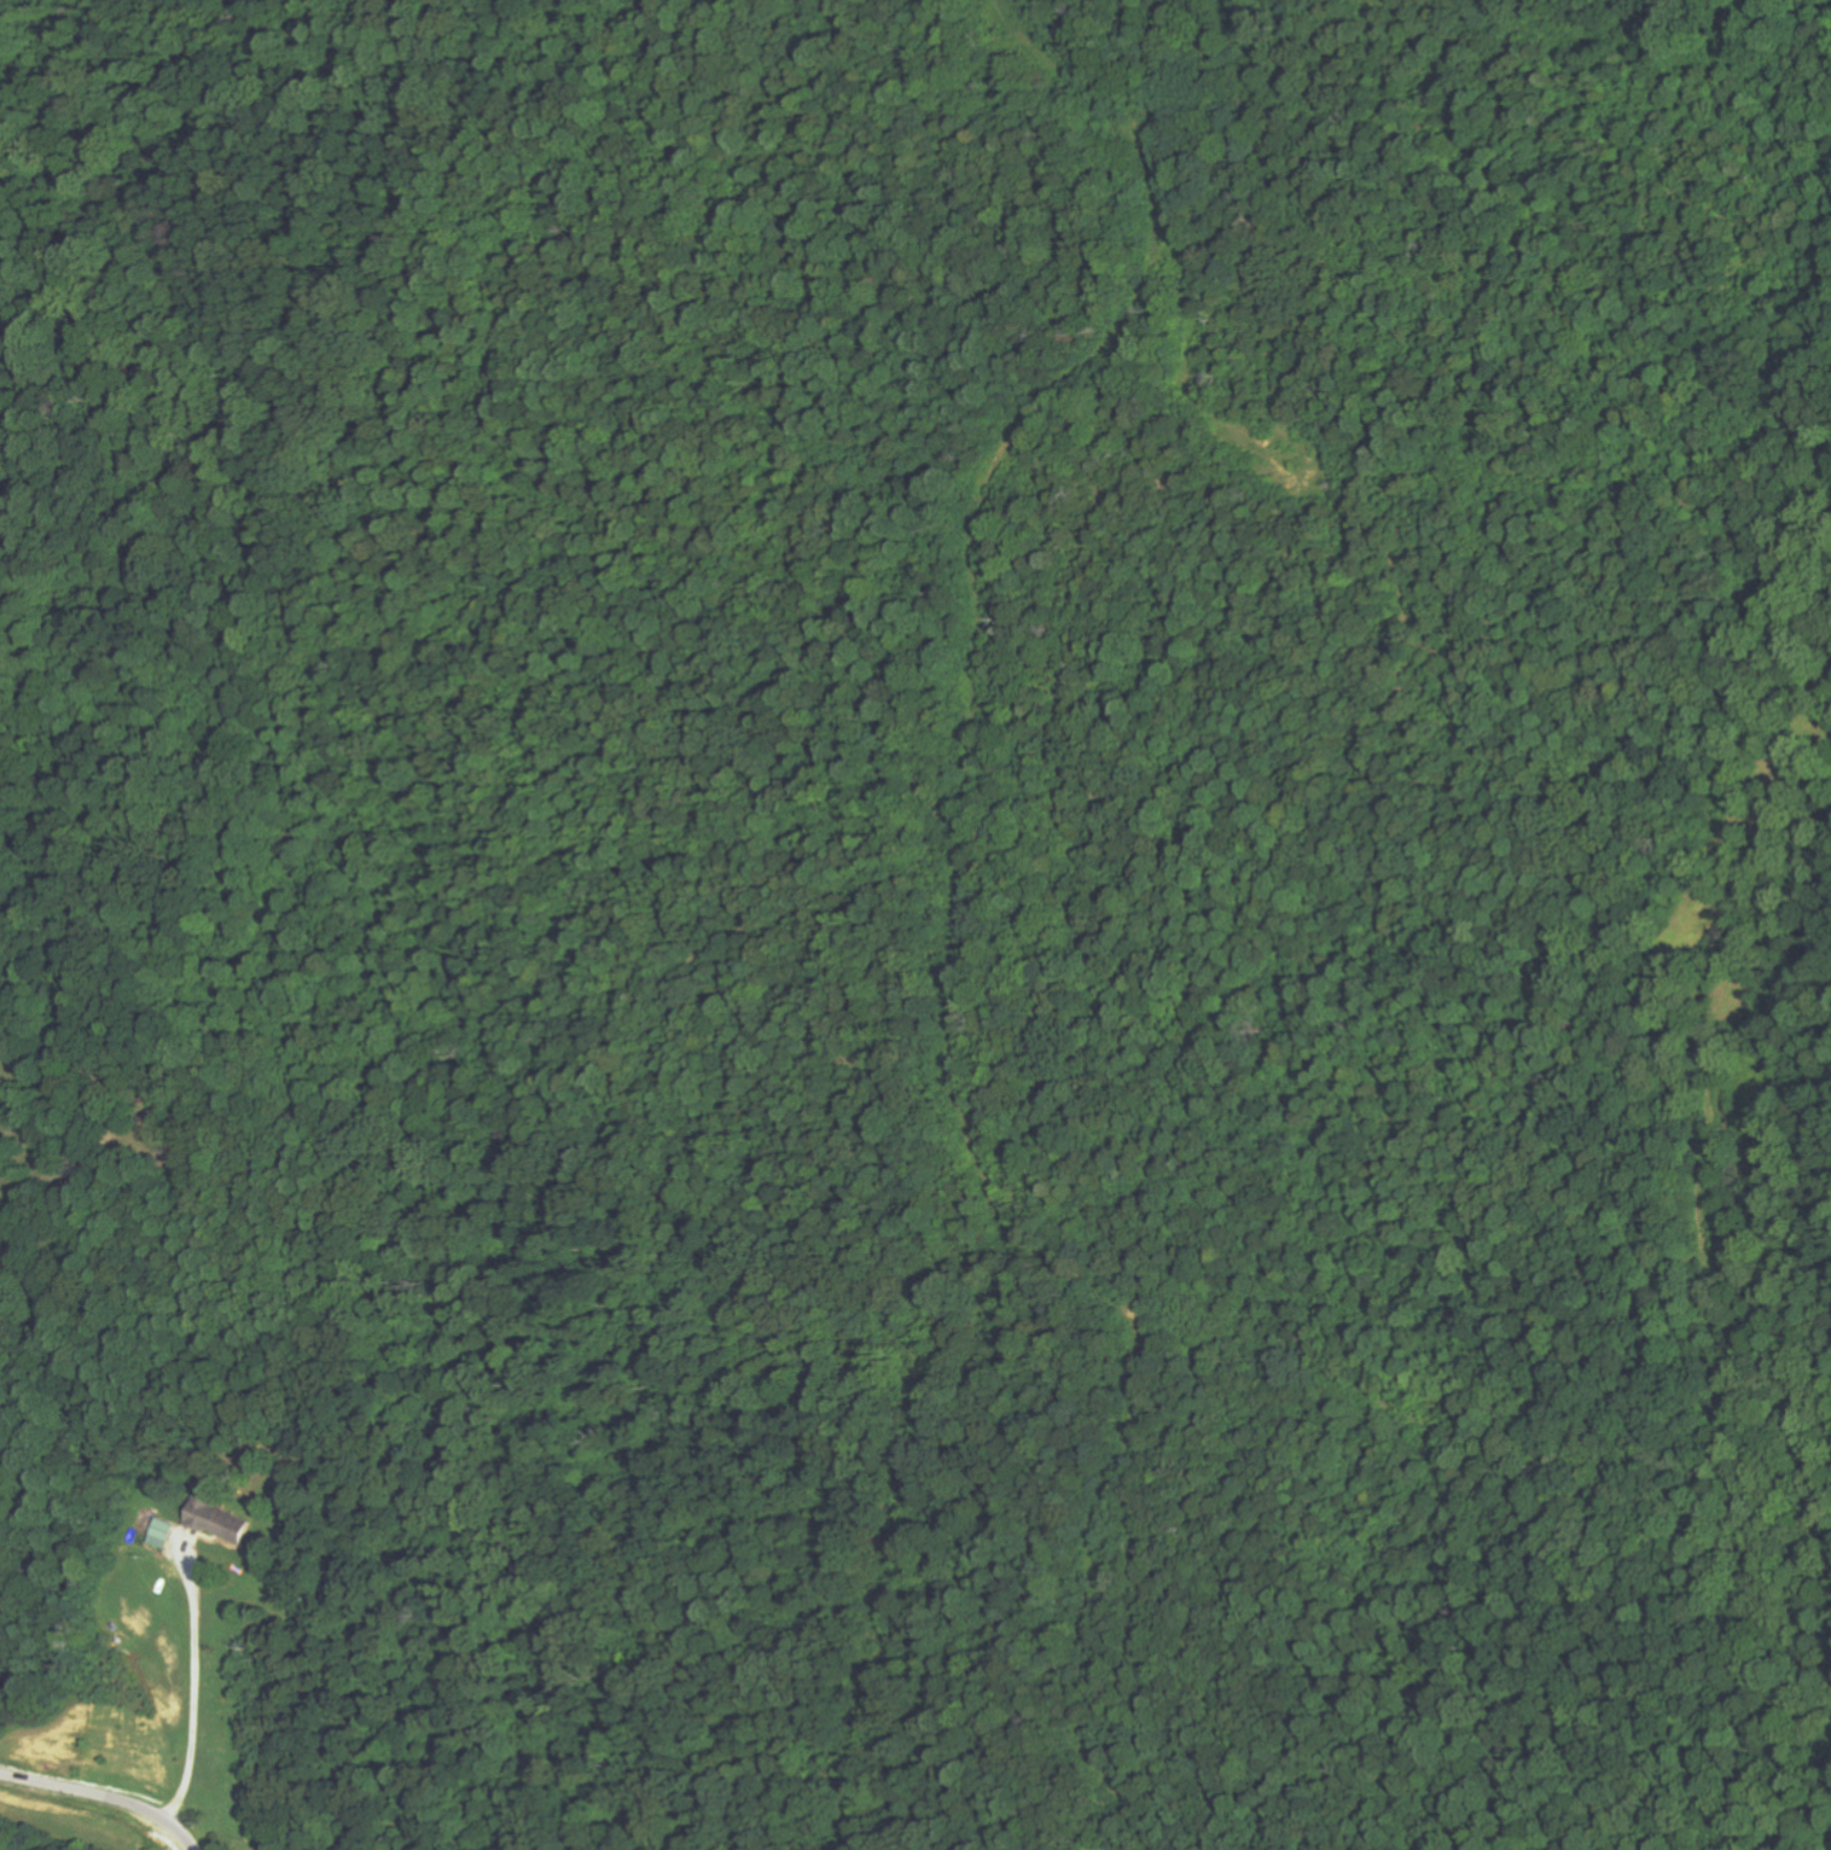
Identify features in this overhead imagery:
building: (227, 1519)
building: (169, 1532)
road: (194, 1688)
road: (664, 1761)
road: (106, 1793)

